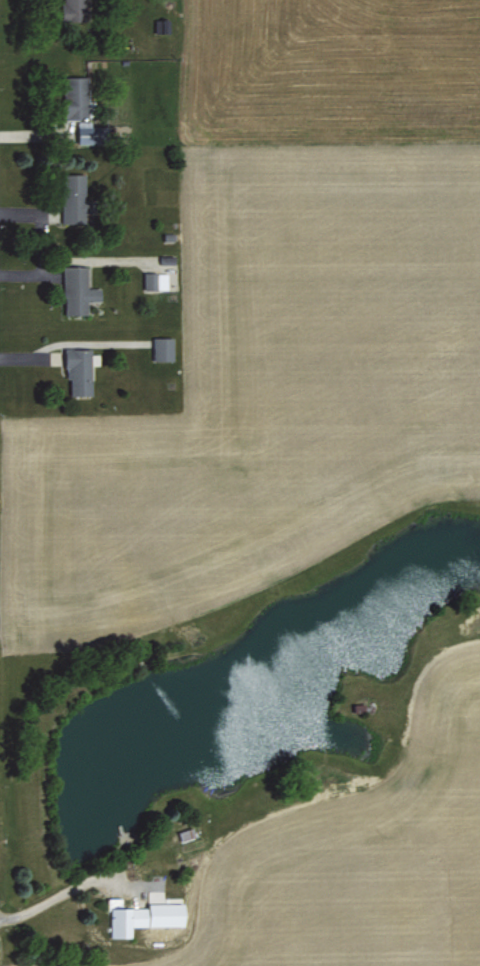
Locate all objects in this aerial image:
building: (75, 9)
building: (74, 95)
building: (89, 131)
building: (74, 196)
building: (154, 279)
building: (76, 288)
building: (162, 347)
building: (77, 370)
road: (57, 893)
building: (141, 915)

